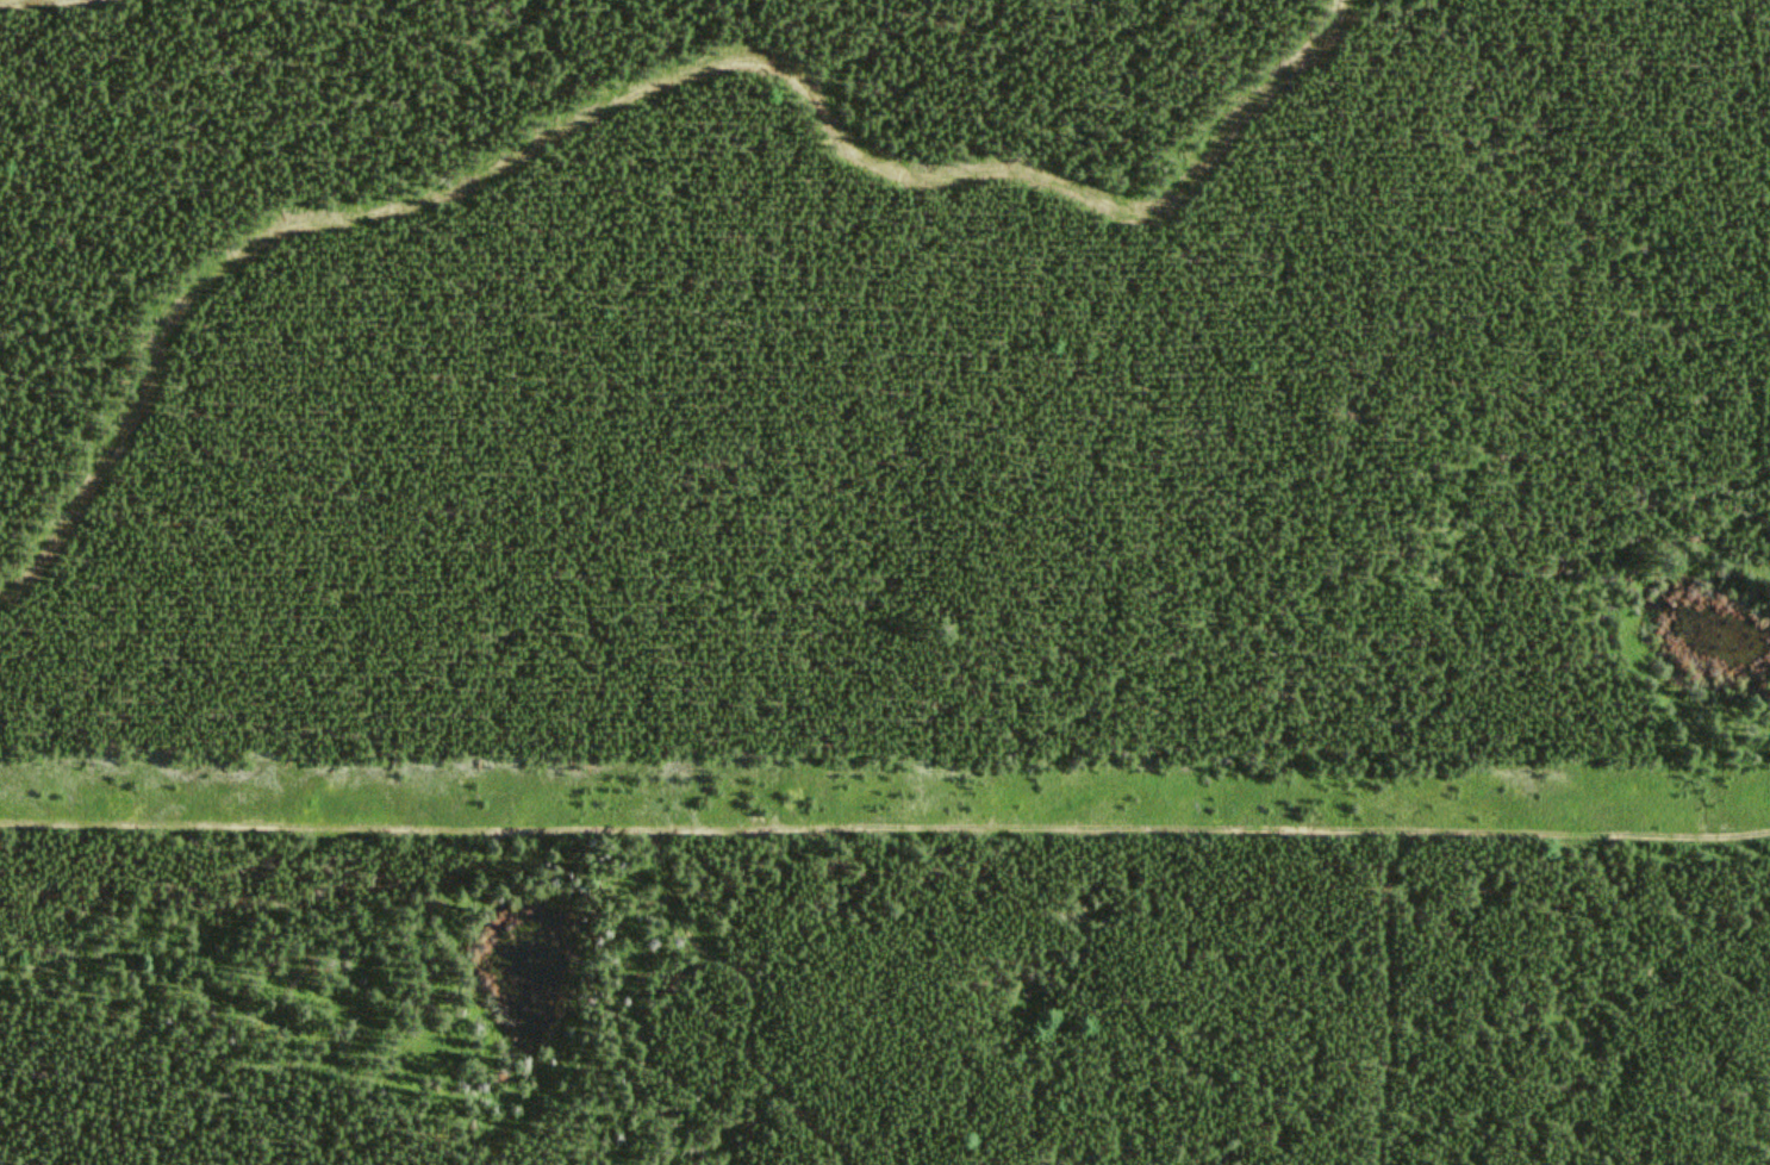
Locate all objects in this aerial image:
road: (644, 89)
road: (885, 824)

